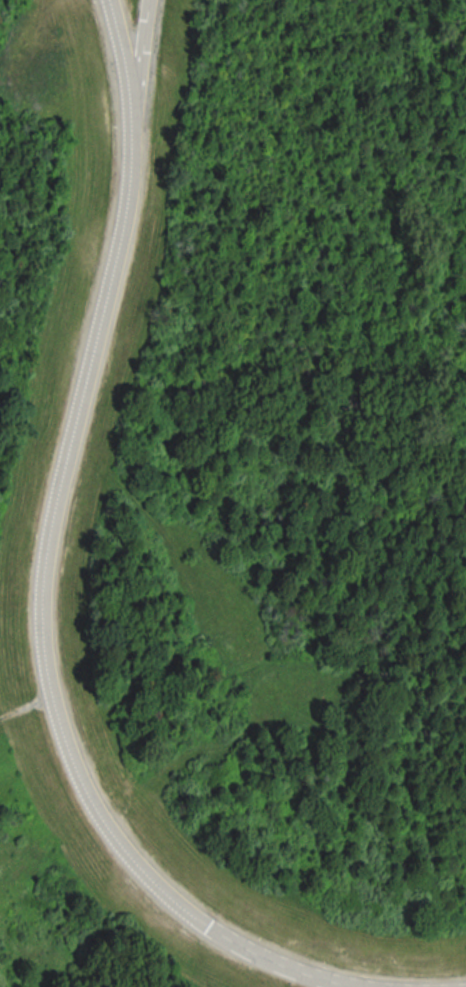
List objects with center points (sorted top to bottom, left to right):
road: (124, 91)
road: (45, 569)
road: (25, 710)

